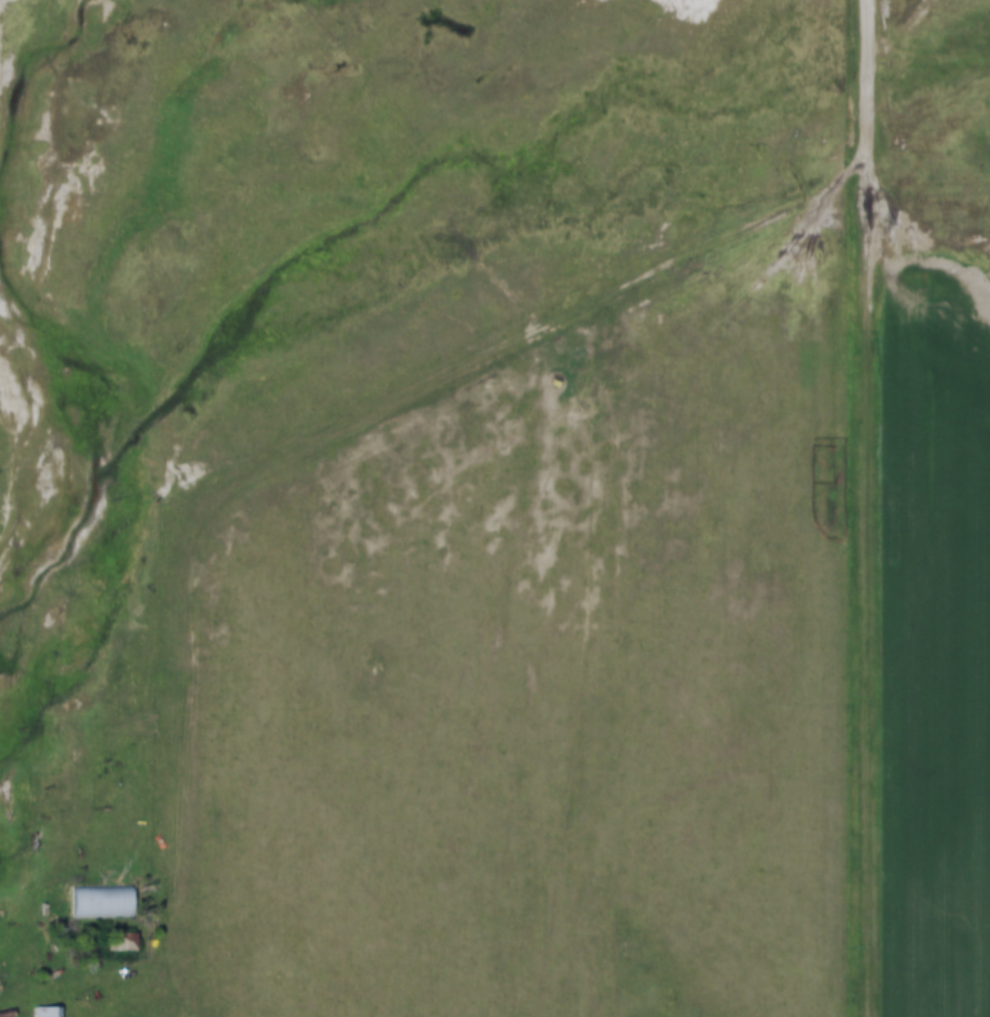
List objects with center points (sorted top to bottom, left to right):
road: (370, 416)
building: (100, 899)
building: (121, 941)
road: (107, 1016)

